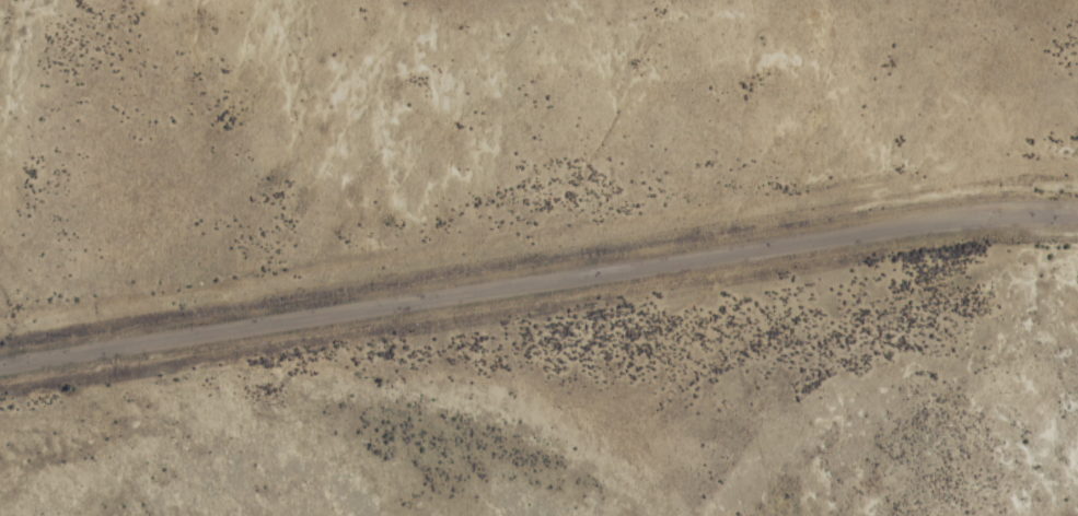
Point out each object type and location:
road: (537, 283)

